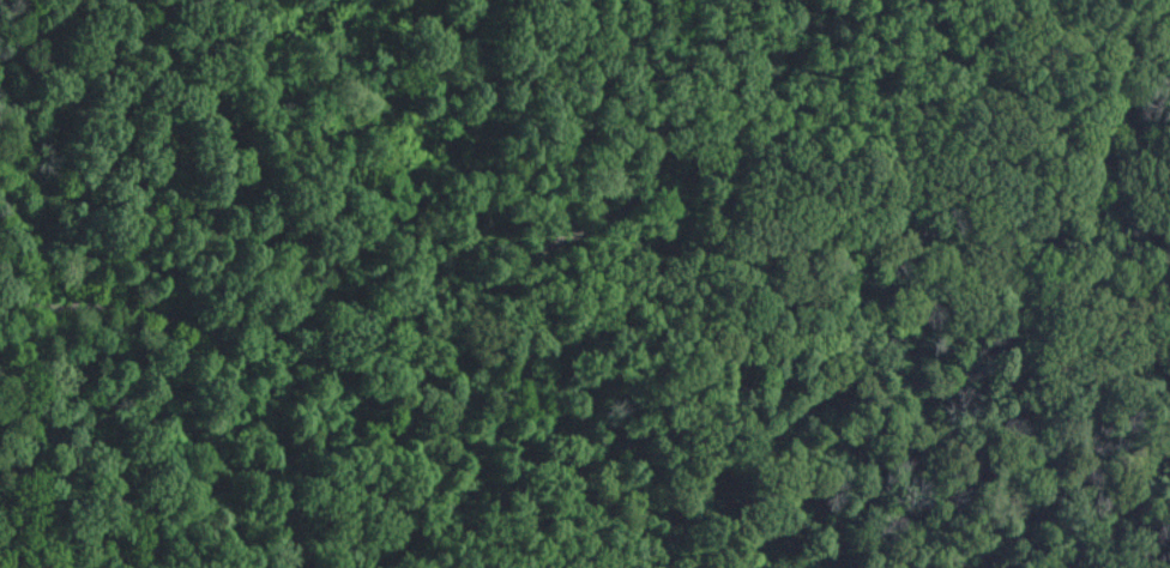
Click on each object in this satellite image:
road: (1032, 240)
road: (19, 283)
road: (430, 300)

